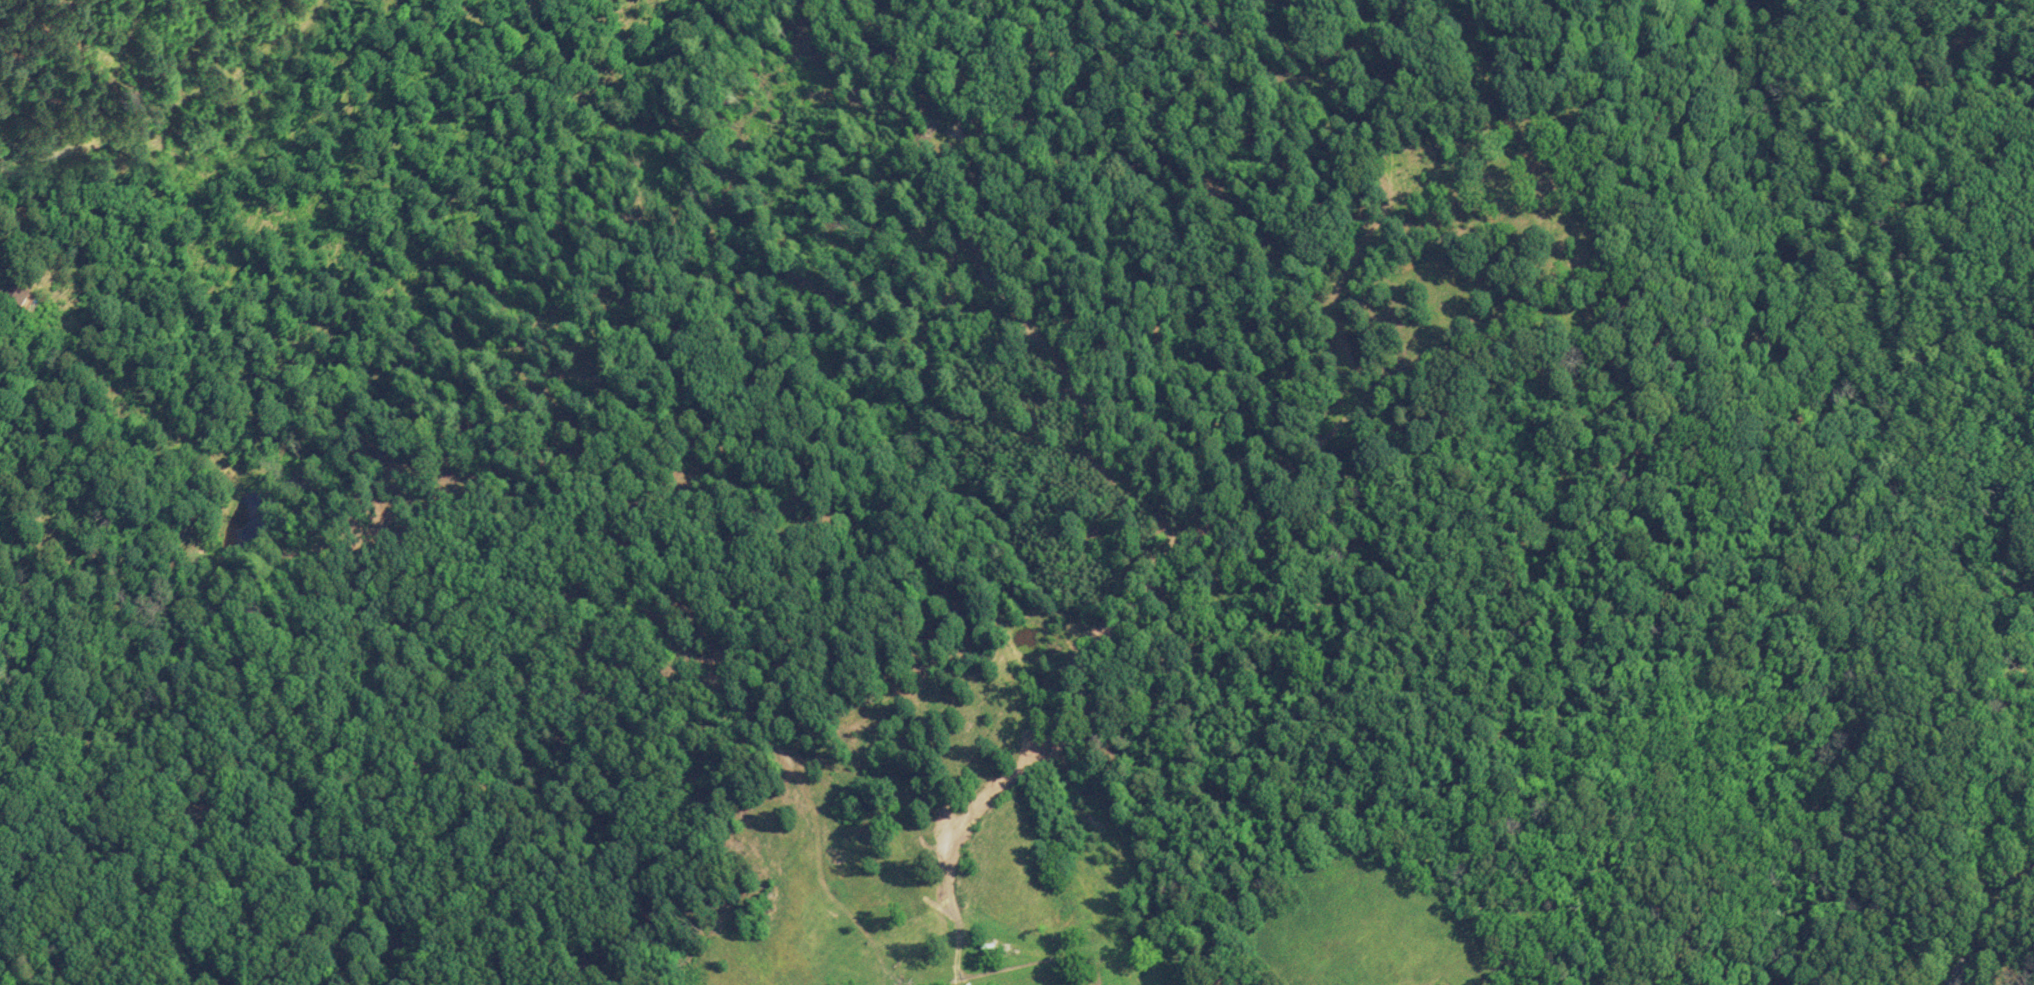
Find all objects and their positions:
road: (114, 773)
road: (1951, 900)
building: (1451, 984)

